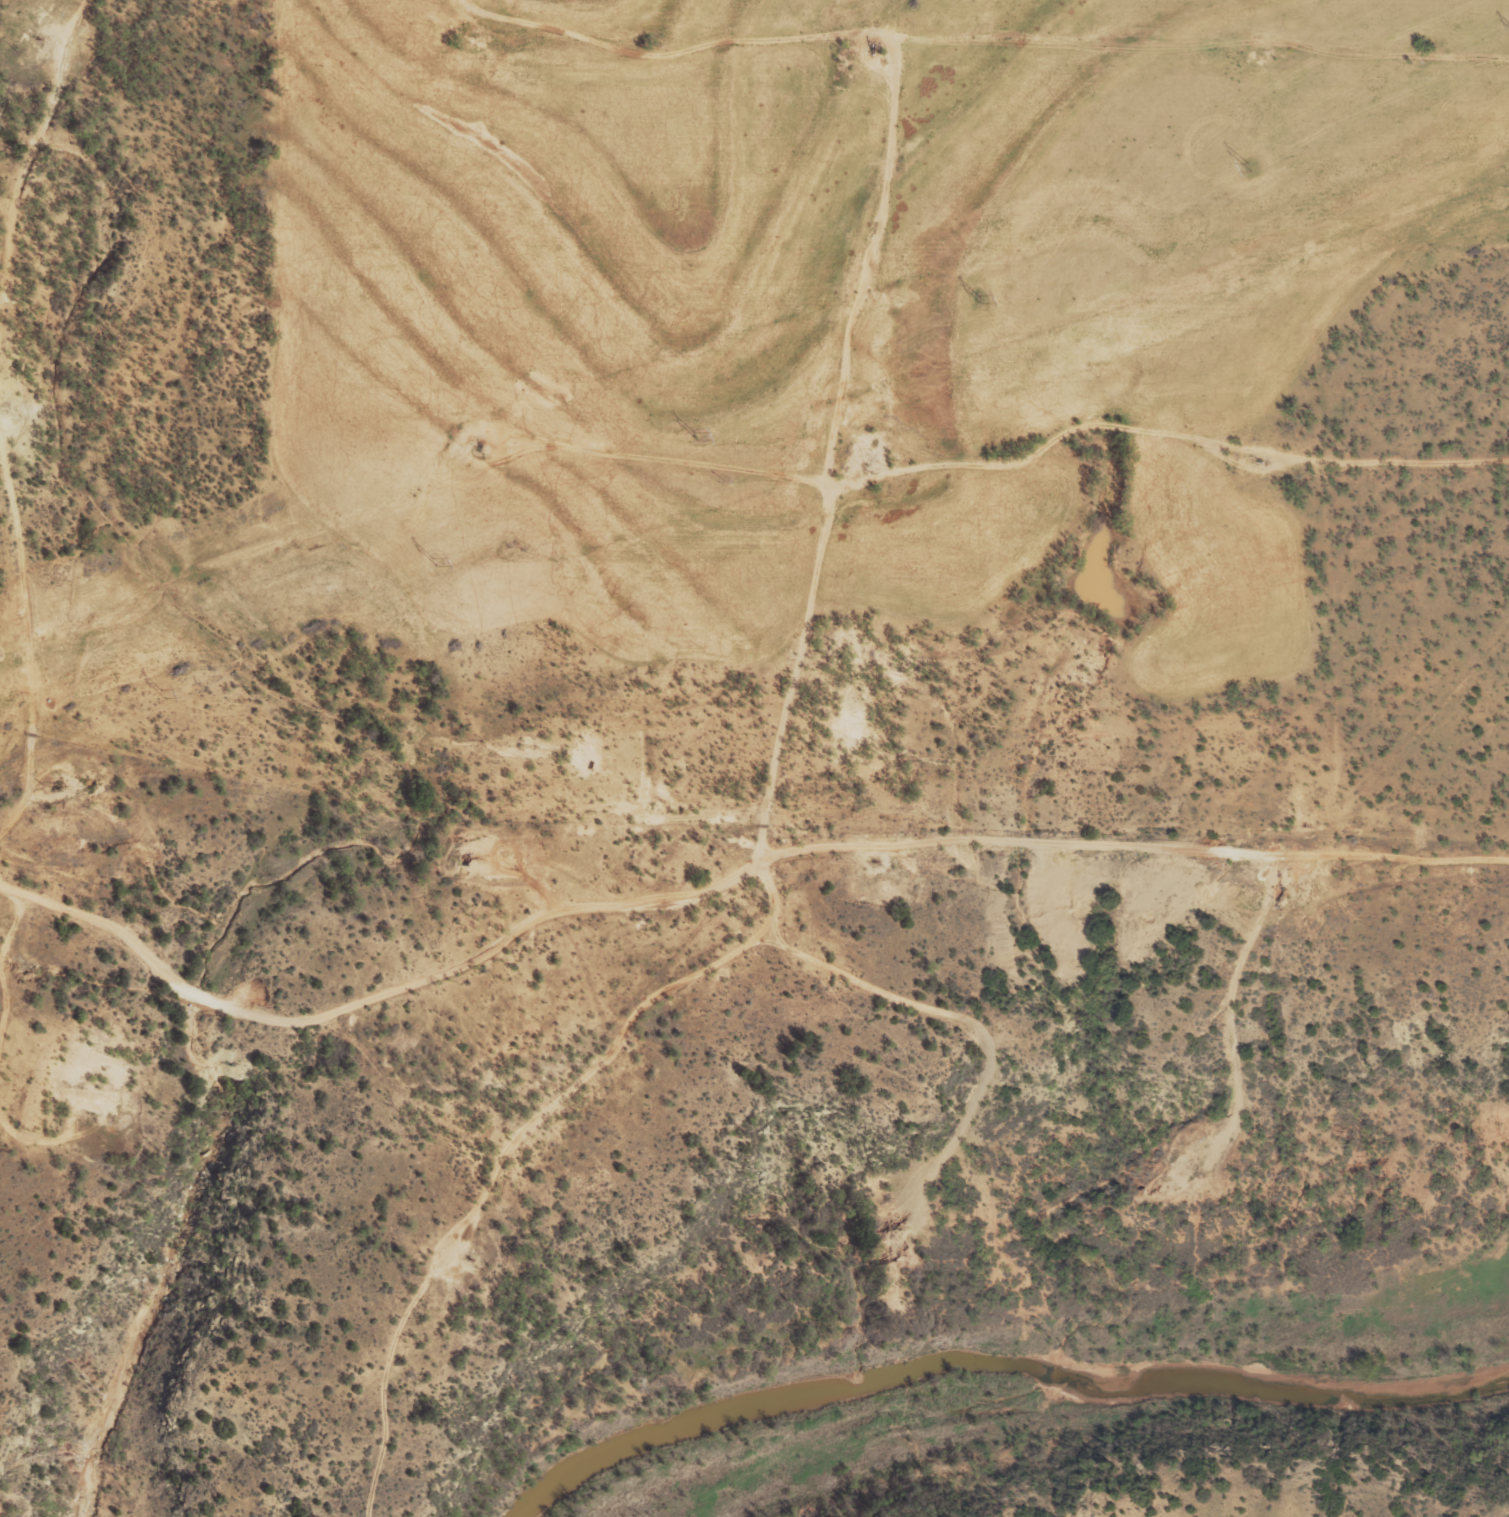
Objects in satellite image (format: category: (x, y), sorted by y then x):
road: (1047, 152)
power tower: (1254, 169)
power tower: (979, 300)
power tower: (694, 435)
power tower: (433, 563)
power tower: (161, 694)
road: (367, 1004)
river: (1000, 1370)

